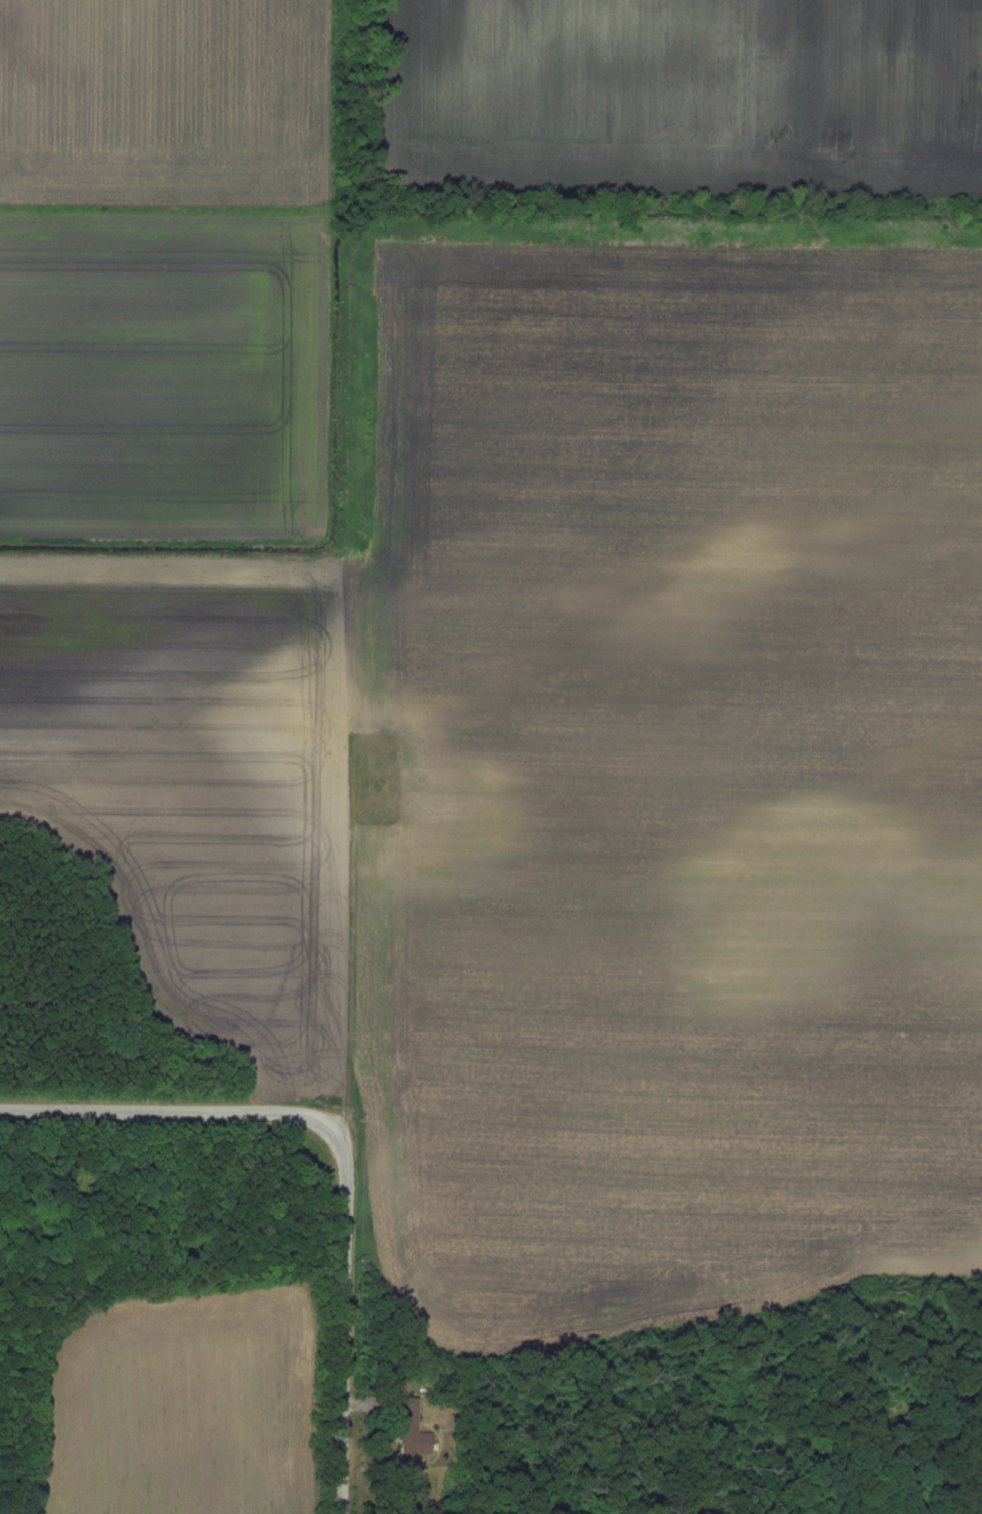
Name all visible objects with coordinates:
road: (168, 1116)
road: (337, 1317)
building: (412, 1429)

